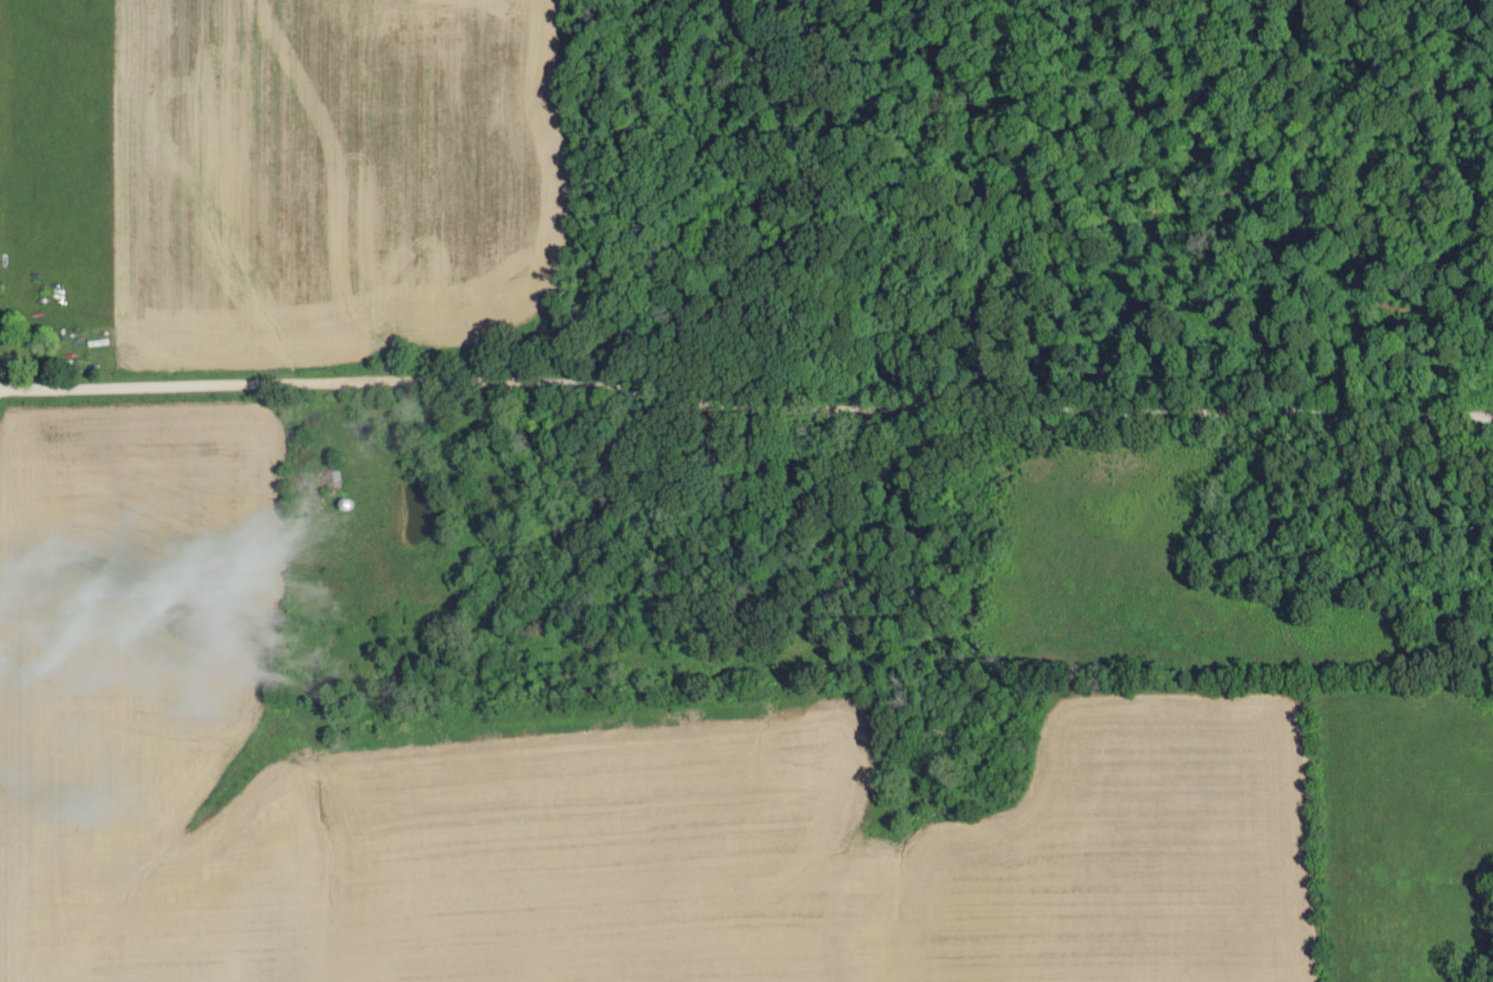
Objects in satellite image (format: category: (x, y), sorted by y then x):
road: (746, 391)

